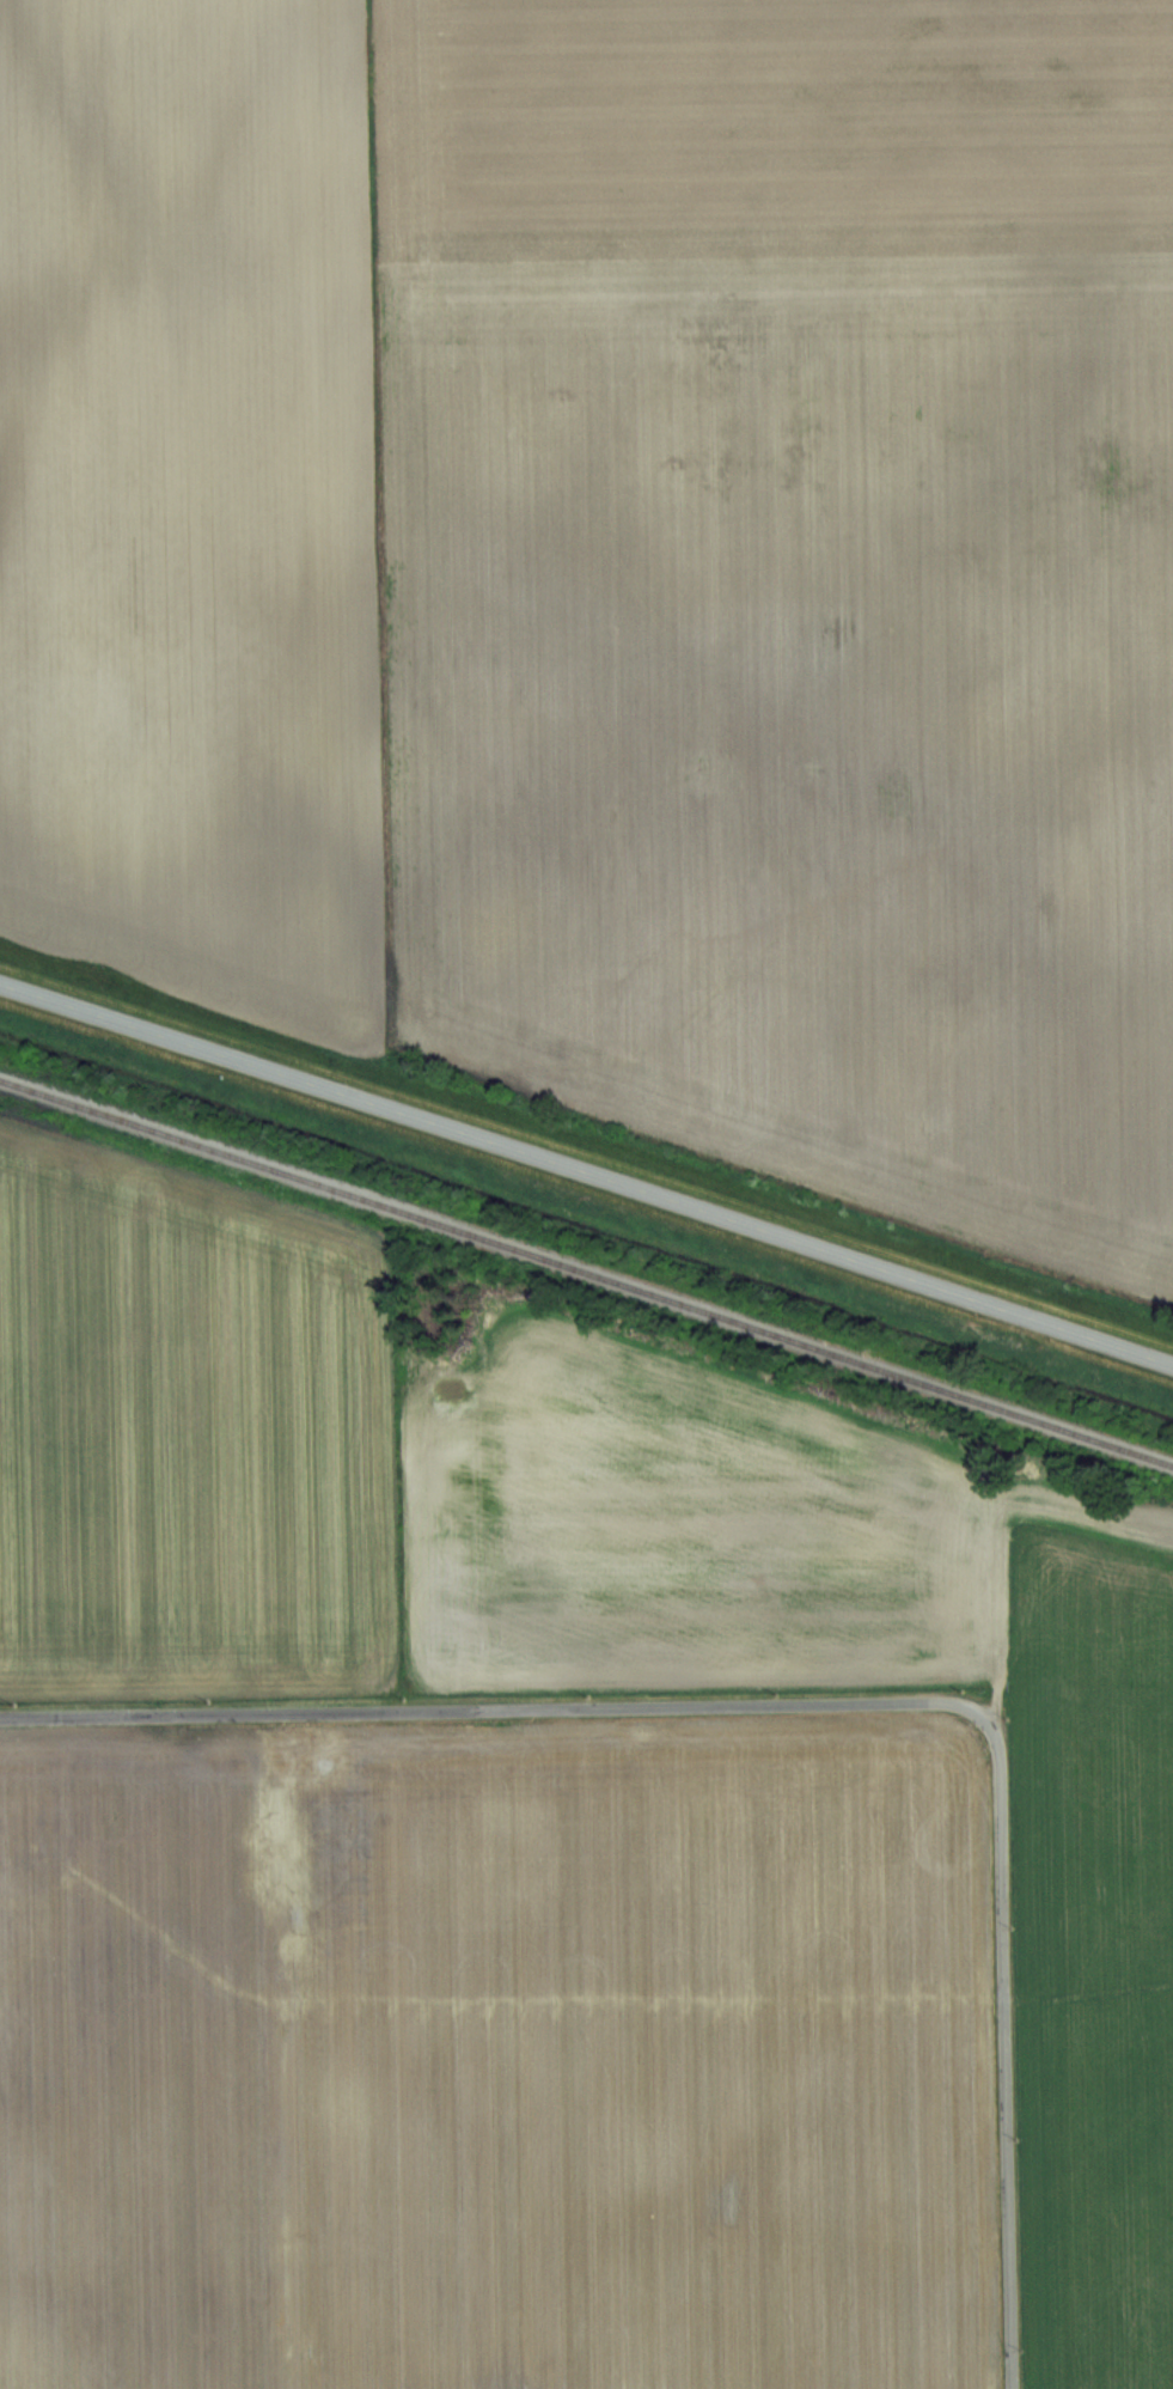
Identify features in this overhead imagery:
road: (587, 1172)
railway: (586, 1273)
road: (829, 1704)

